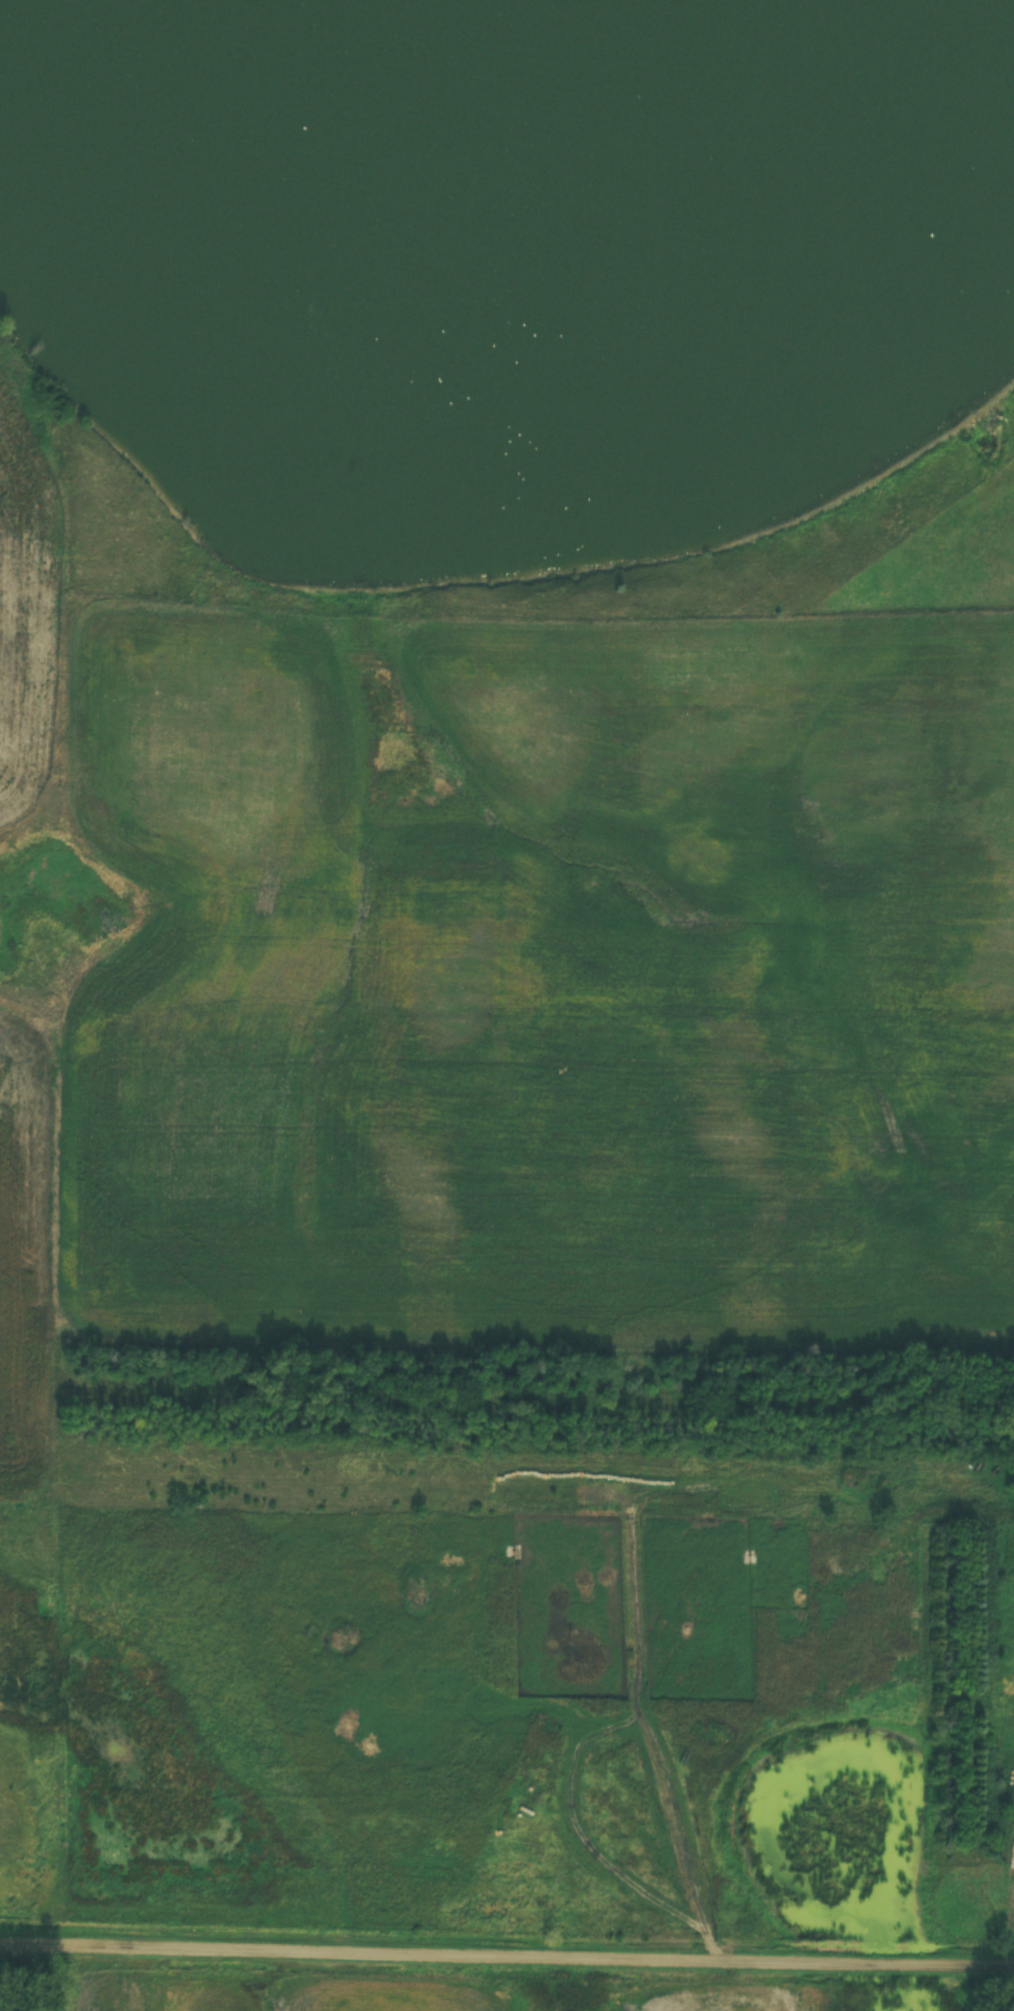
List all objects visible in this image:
road: (469, 1958)
road: (976, 1966)

